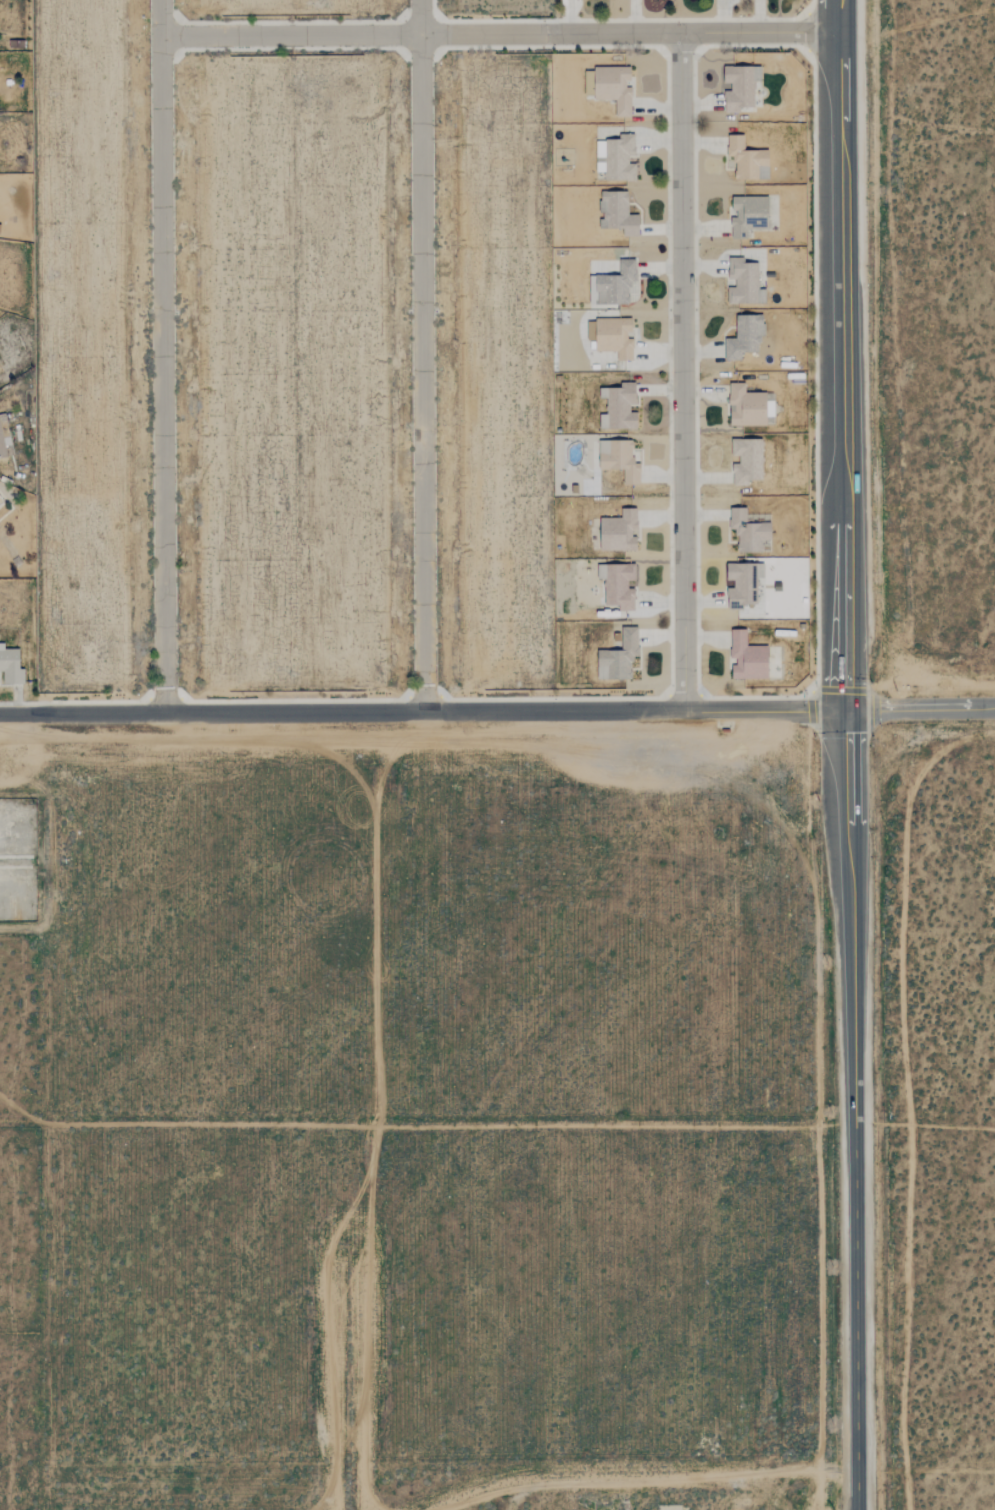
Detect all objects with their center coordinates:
road: (496, 38)
building: (740, 87)
building: (614, 88)
building: (747, 160)
building: (618, 214)
building: (749, 215)
building: (744, 283)
building: (615, 284)
building: (611, 337)
building: (745, 337)
road: (161, 356)
road: (420, 356)
road: (838, 356)
road: (683, 375)
building: (750, 407)
building: (619, 408)
building: (4, 438)
building: (619, 460)
building: (747, 461)
building: (619, 532)
building: (748, 532)
building: (743, 584)
building: (618, 586)
building: (619, 658)
building: (747, 658)
building: (11, 667)
road: (919, 710)
traffic signals: (843, 712)
road: (421, 713)
road: (853, 1110)

